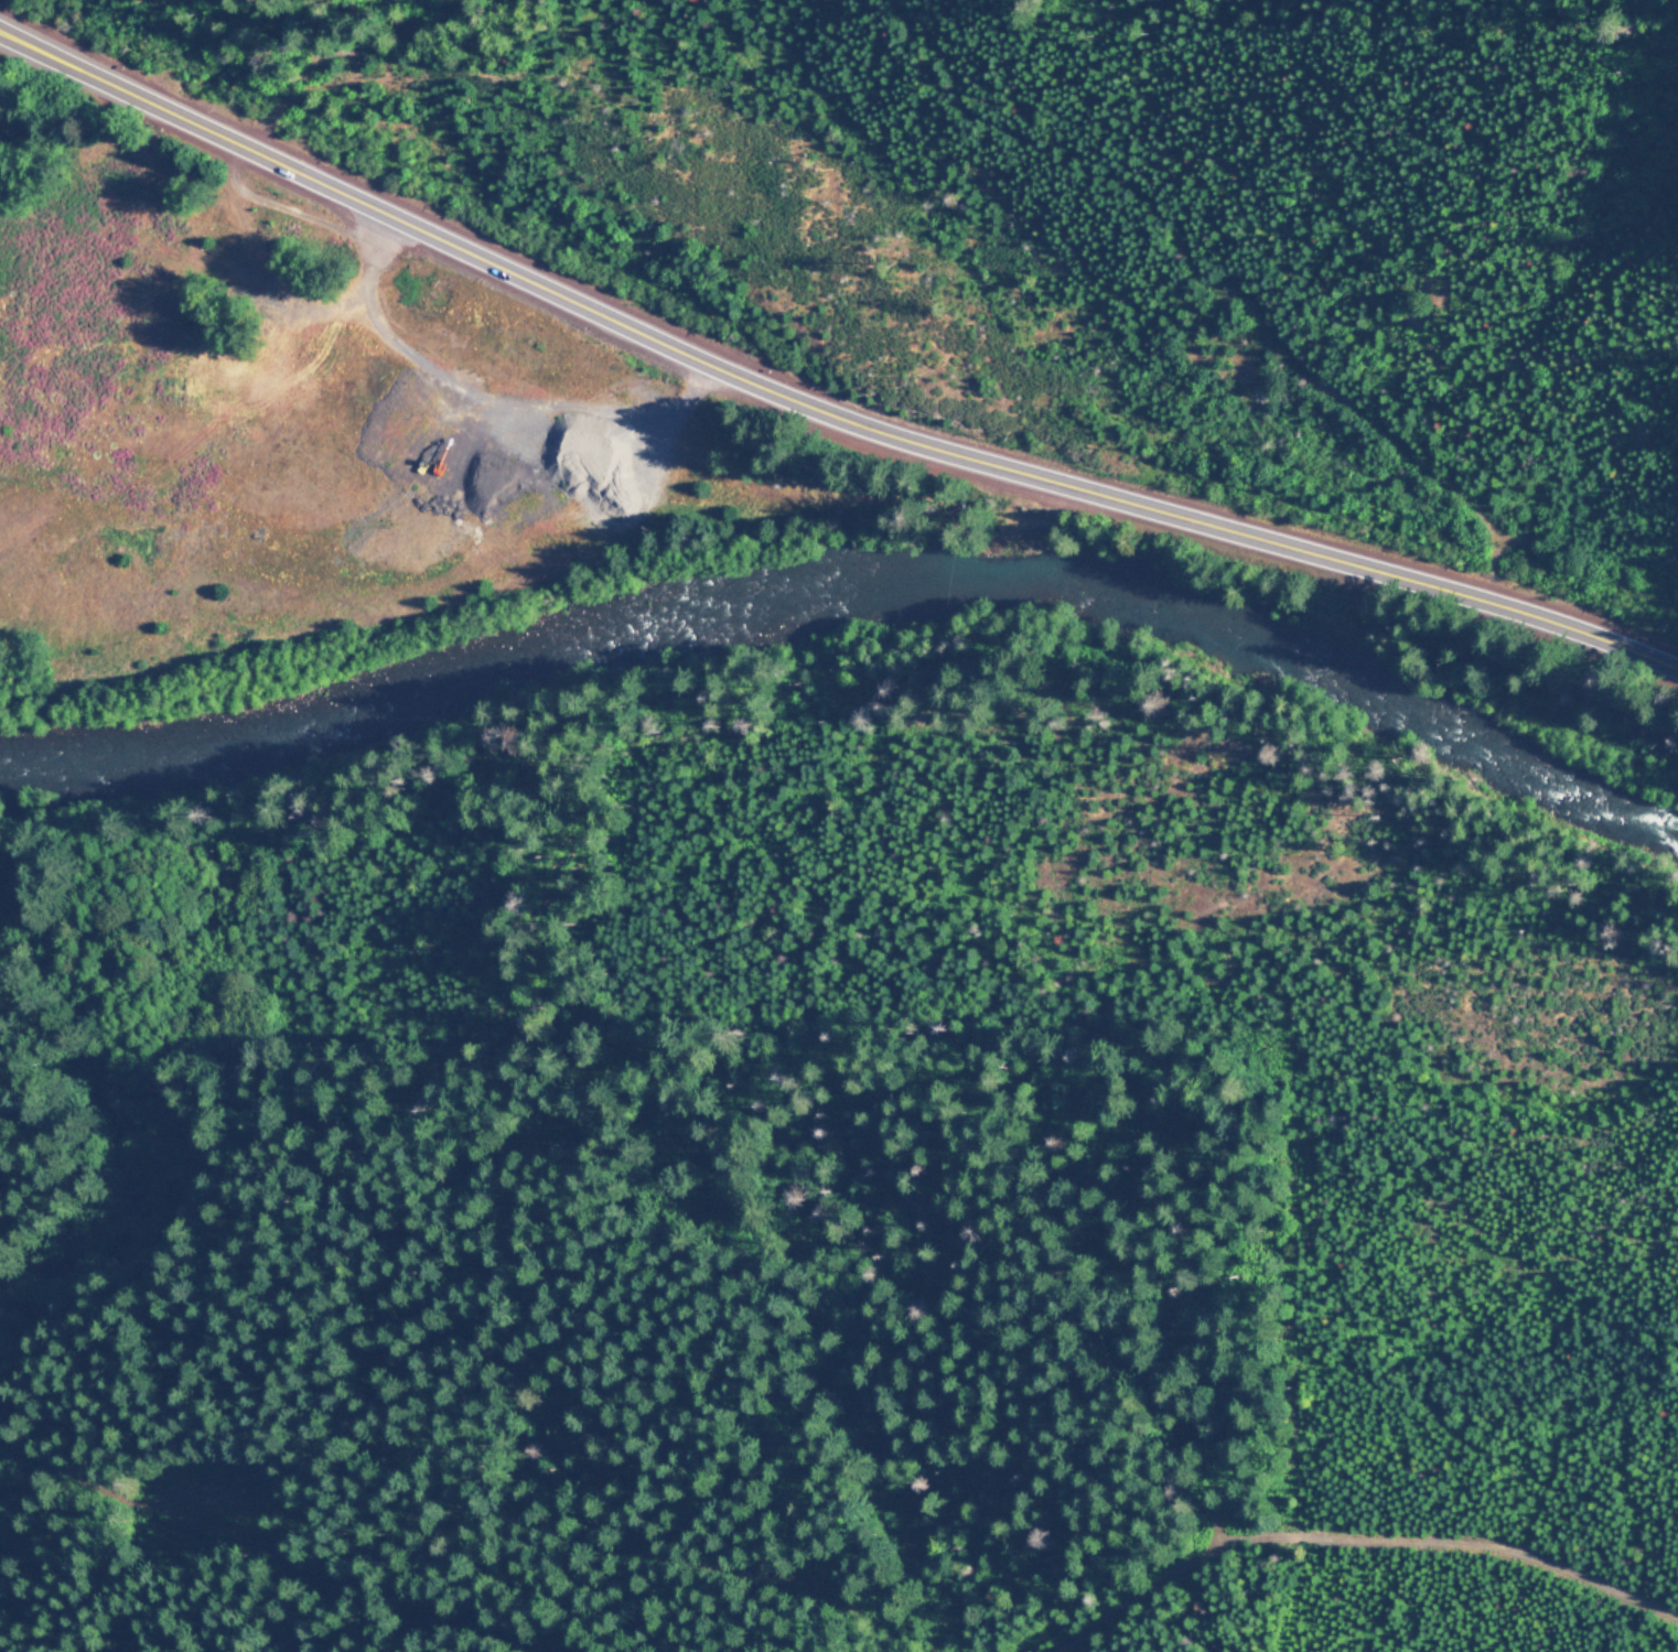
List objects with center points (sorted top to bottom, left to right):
road: (533, 403)
road: (817, 413)
road: (219, 415)
river: (856, 602)

